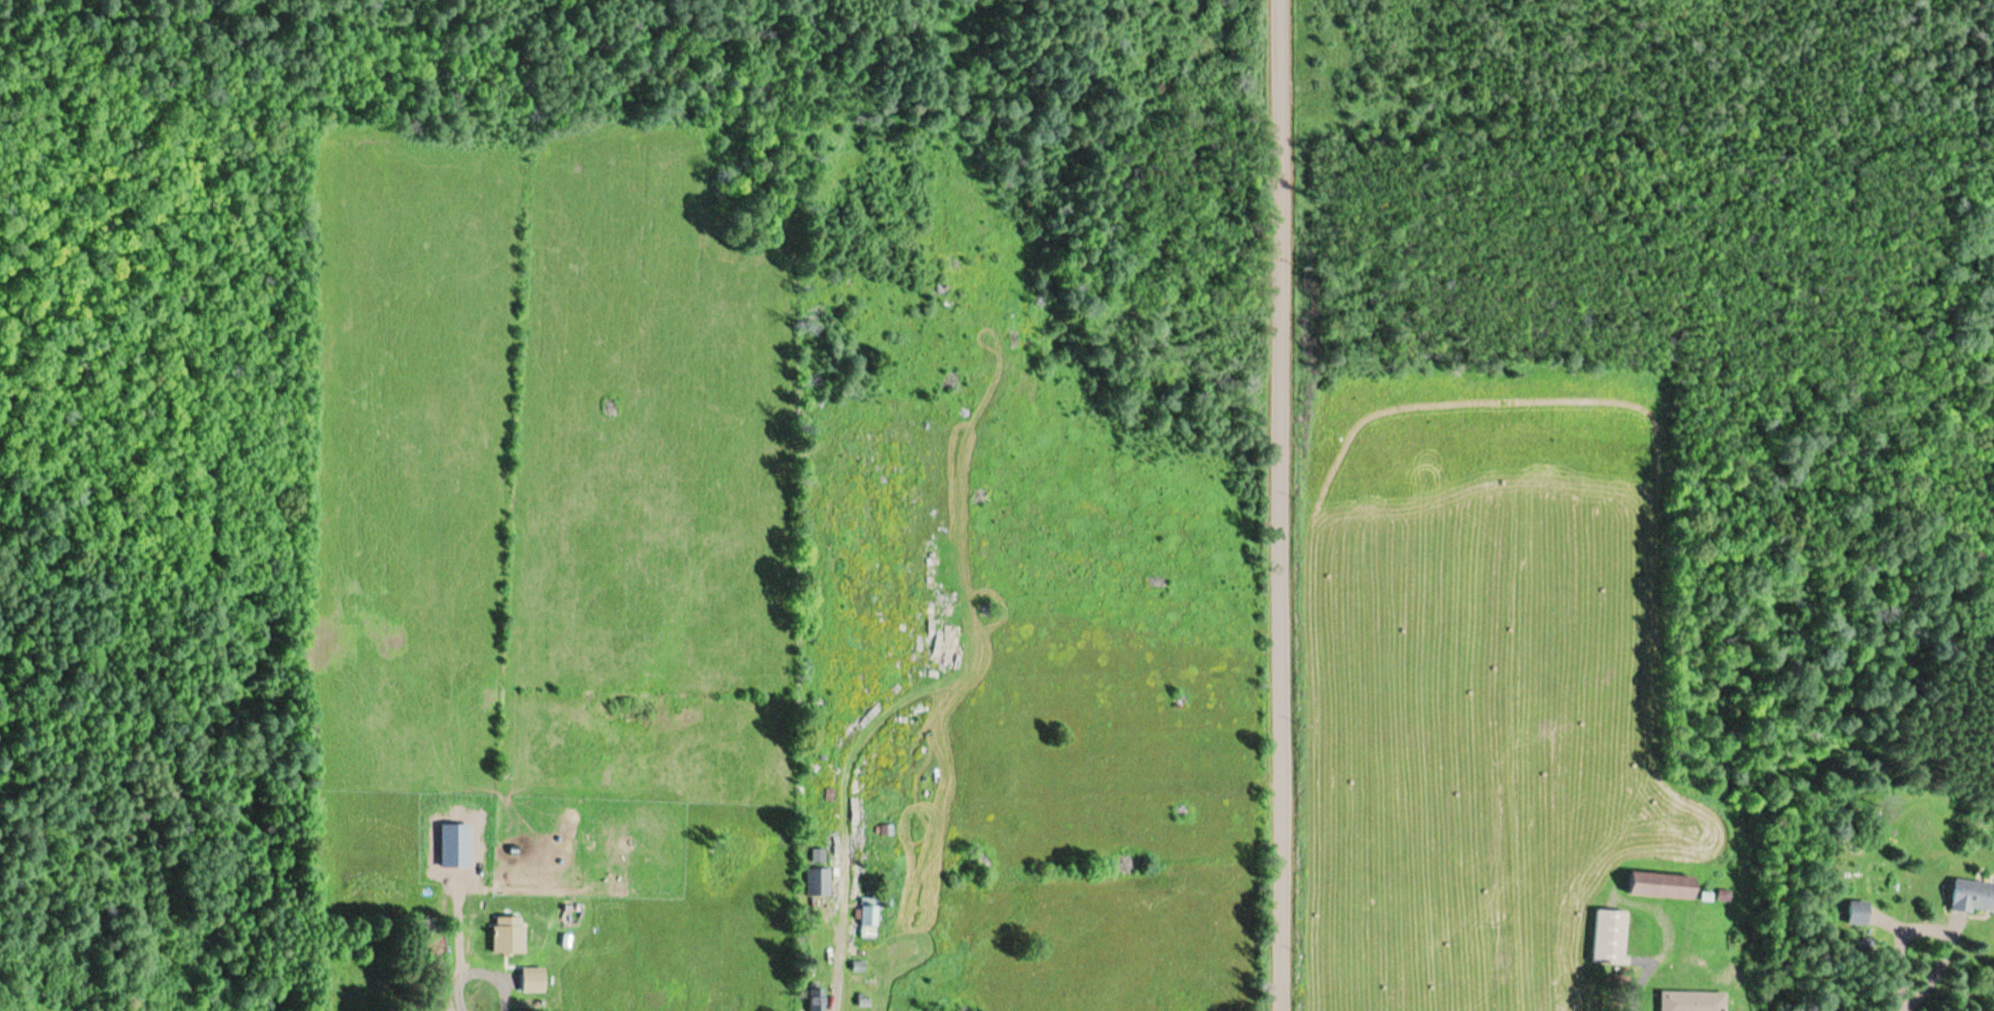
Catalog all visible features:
road: (1290, 505)
building: (810, 882)
building: (1657, 885)
building: (1971, 897)
building: (391, 906)
building: (1857, 913)
building: (861, 919)
building: (1608, 937)
building: (522, 996)
building: (807, 999)
building: (1690, 1001)

